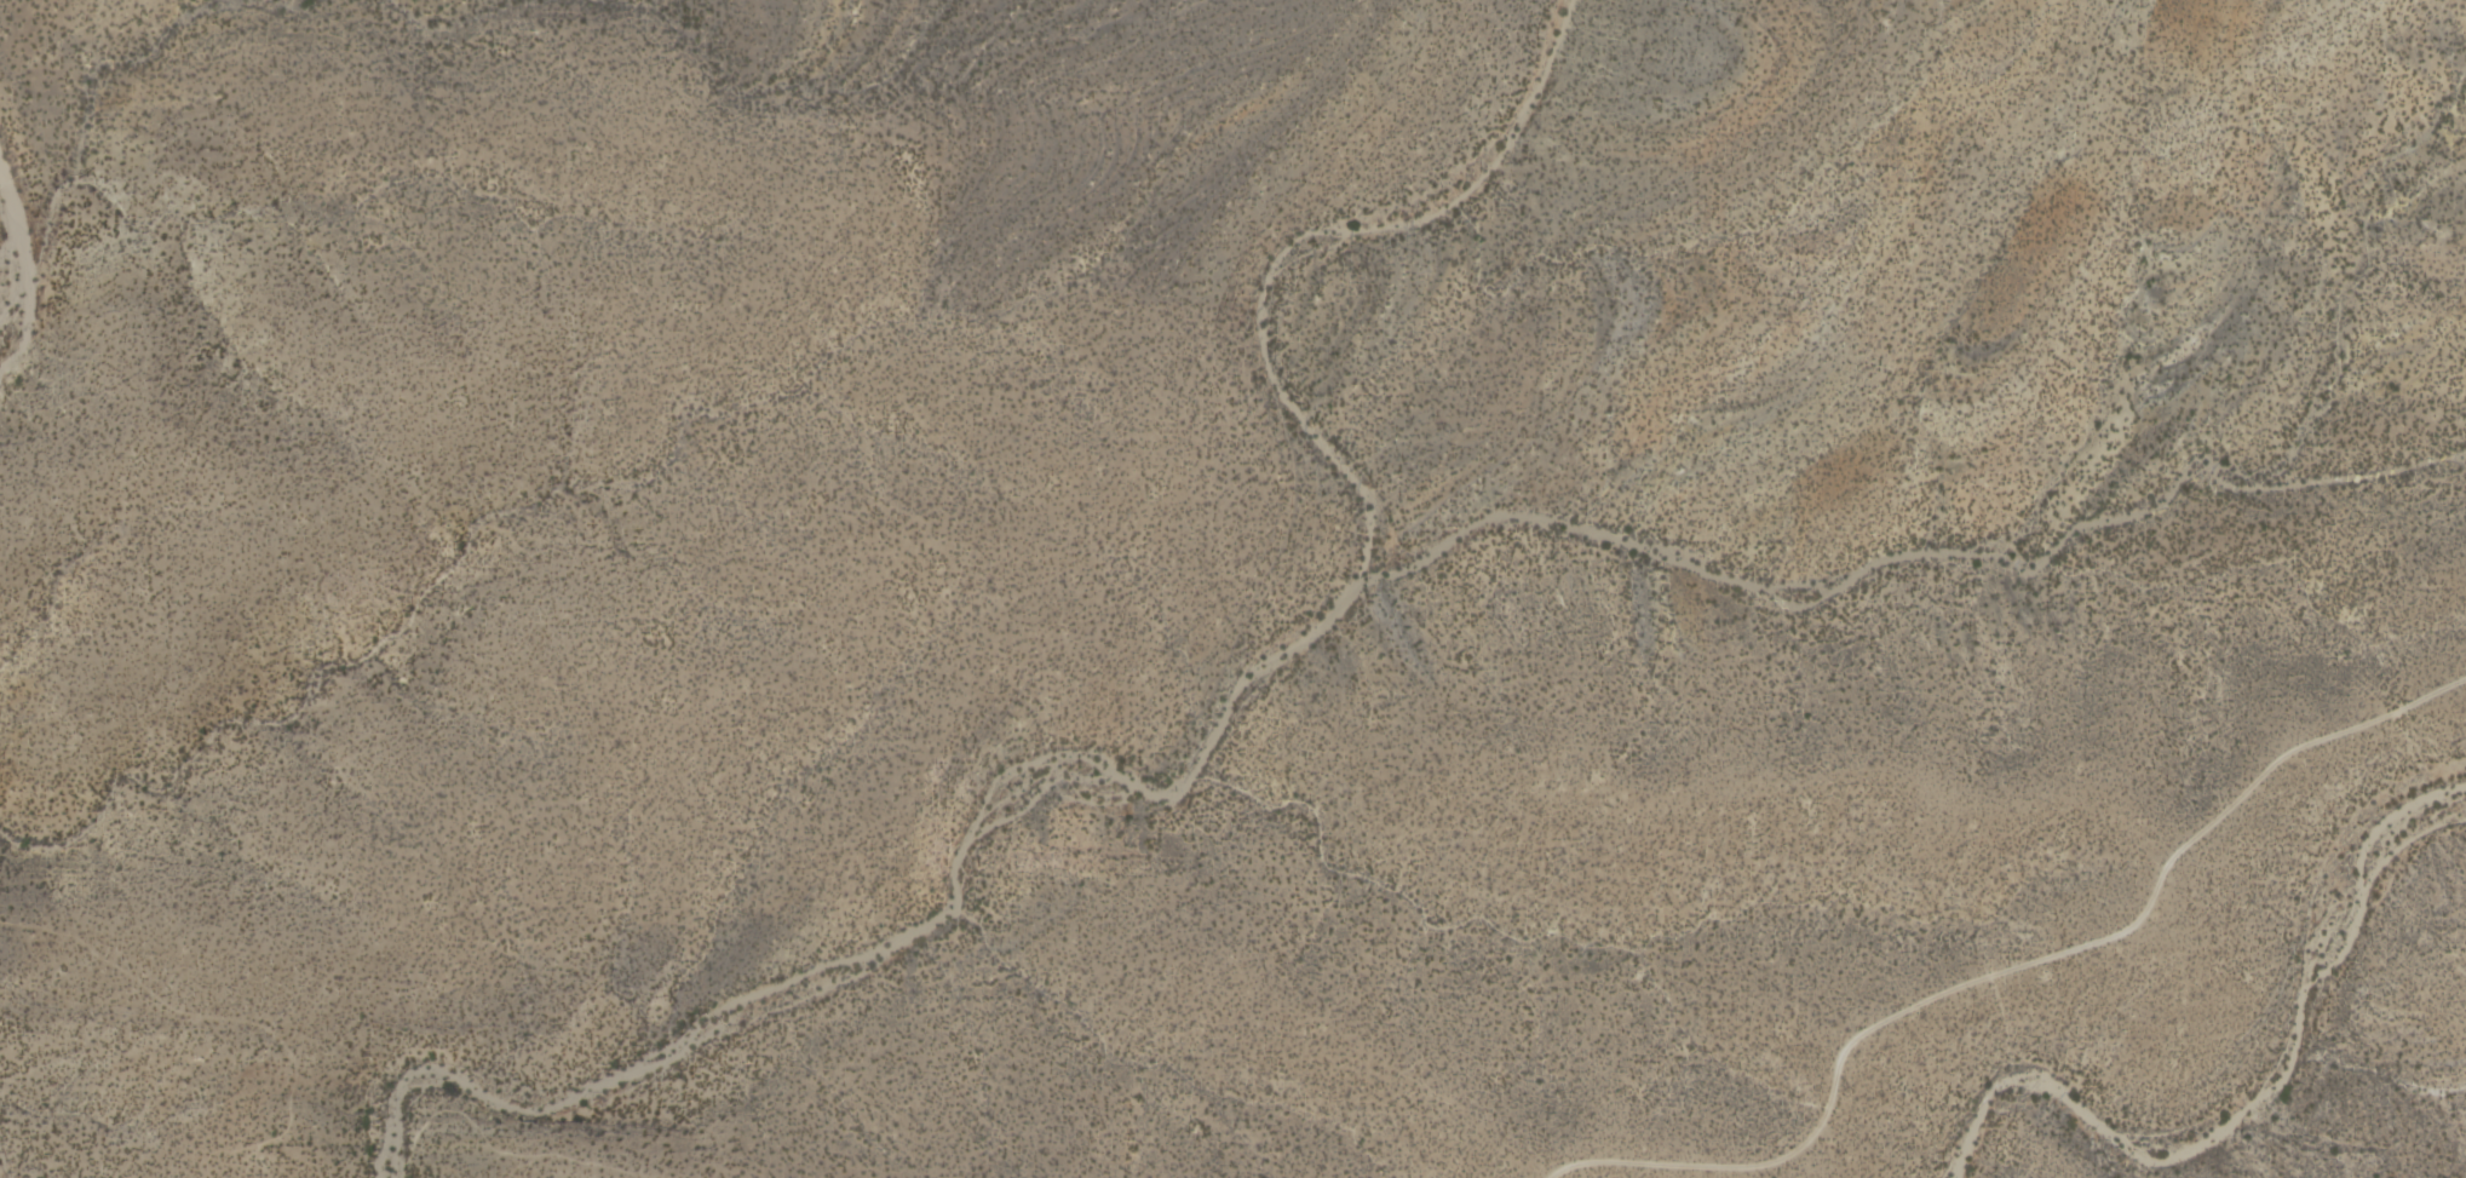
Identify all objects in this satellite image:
road: (229, 1018)
road: (471, 1140)

